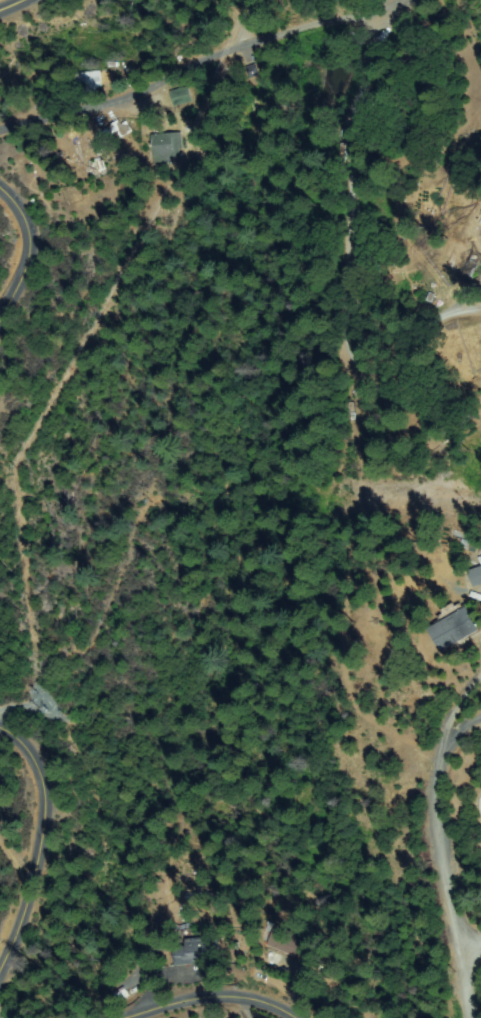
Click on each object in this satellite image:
road: (13, 7)
road: (351, 27)
building: (254, 72)
building: (88, 80)
building: (181, 95)
building: (373, 110)
building: (114, 131)
building: (167, 147)
road: (23, 254)
building: (469, 268)
building: (460, 544)
building: (475, 575)
building: (451, 627)
road: (31, 843)
road: (435, 857)
building: (284, 941)
road: (467, 947)
building: (201, 952)
road: (202, 1001)

